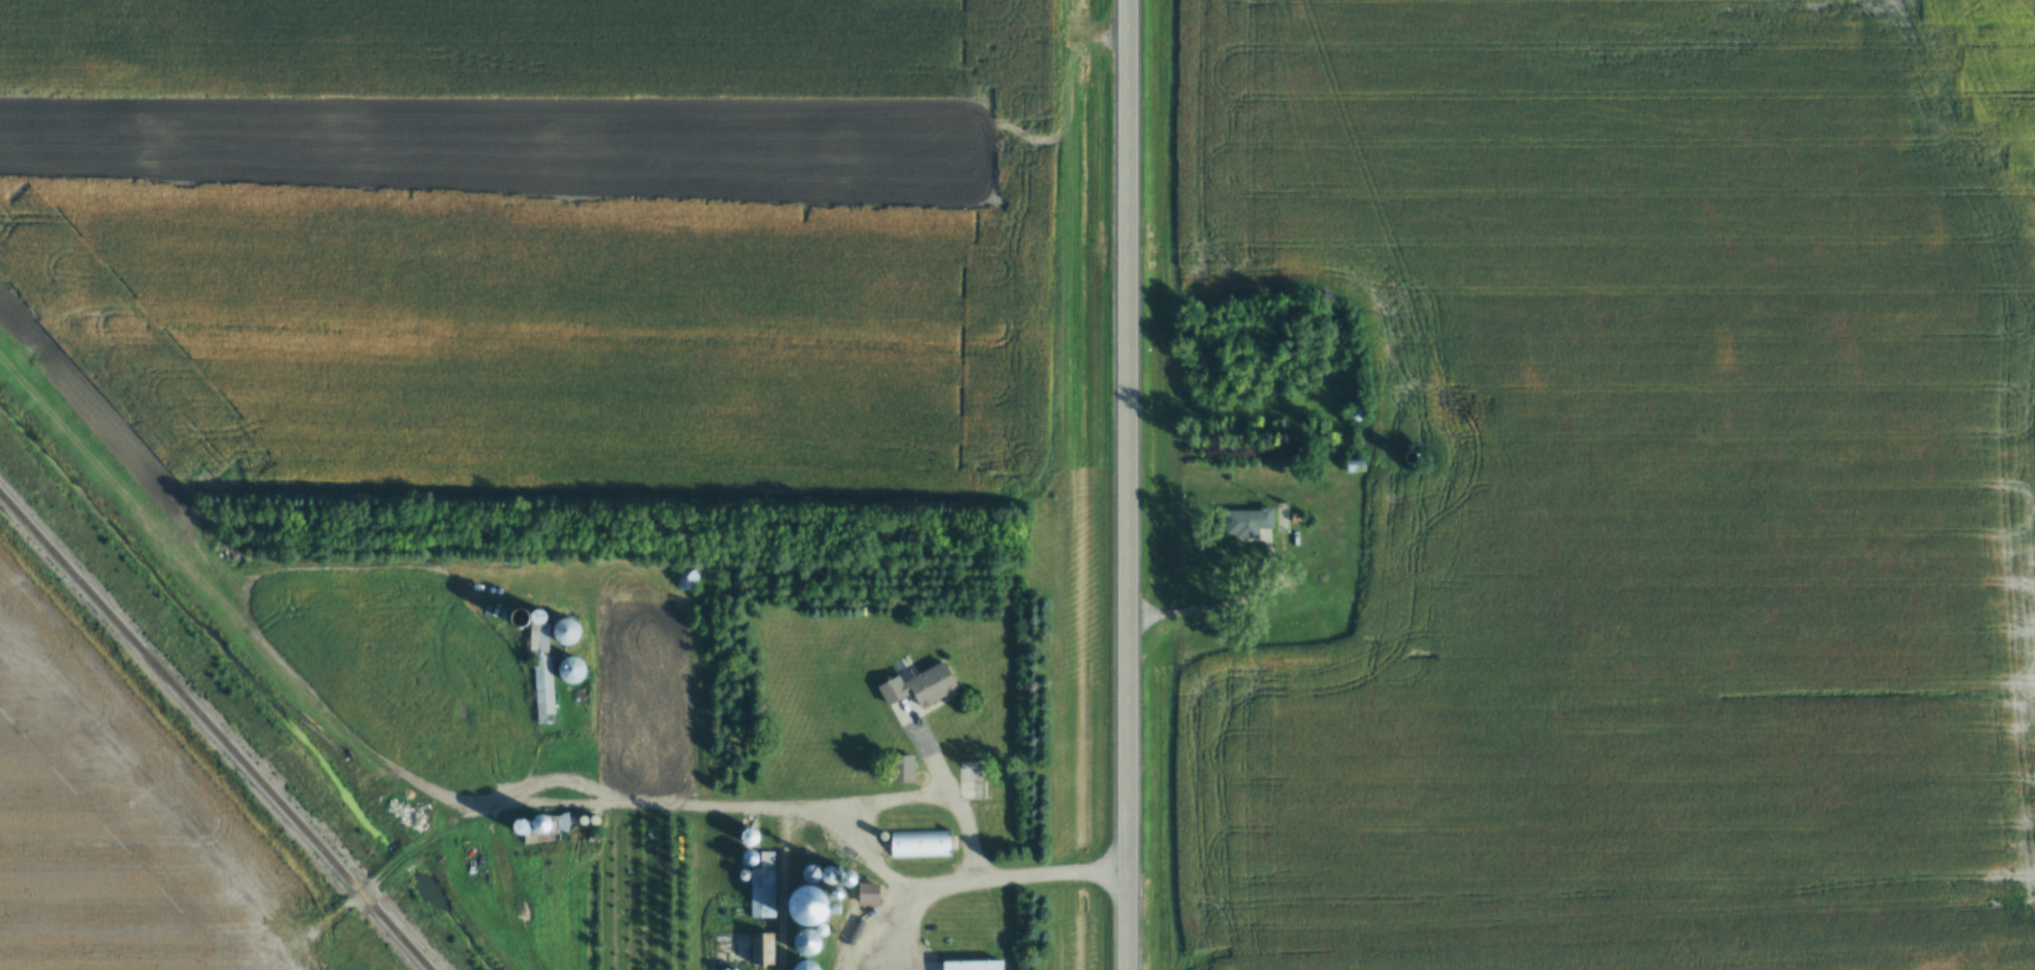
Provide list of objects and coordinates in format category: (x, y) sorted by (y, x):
building: (1361, 415)
silo: (1361, 415)
building: (1414, 458)
silo: (1414, 458)
building: (1360, 466)
road: (1132, 485)
building: (1299, 518)
building: (1253, 522)
building: (469, 568)
building: (518, 618)
silo: (518, 618)
building: (568, 633)
silo: (568, 633)
building: (541, 674)
building: (922, 686)
railway: (213, 733)
building: (903, 768)
road: (777, 803)
building: (540, 823)
silo: (540, 823)
building: (520, 826)
silo: (520, 826)
building: (751, 837)
building: (540, 839)
building: (916, 844)
building: (751, 859)
silo: (751, 859)
road: (384, 871)
building: (813, 874)
silo: (813, 874)
building: (743, 875)
silo: (743, 875)
building: (832, 876)
silo: (832, 876)
building: (854, 879)
silo: (854, 879)
road: (989, 880)
building: (764, 889)
building: (810, 897)
silo: (810, 897)
building: (814, 919)
silo: (814, 919)
building: (865, 928)
silo: (865, 928)
building: (806, 943)
silo: (806, 943)
building: (849, 947)
silo: (849, 947)
building: (763, 949)
building: (805, 966)
silo: (805, 966)
building: (970, 966)

